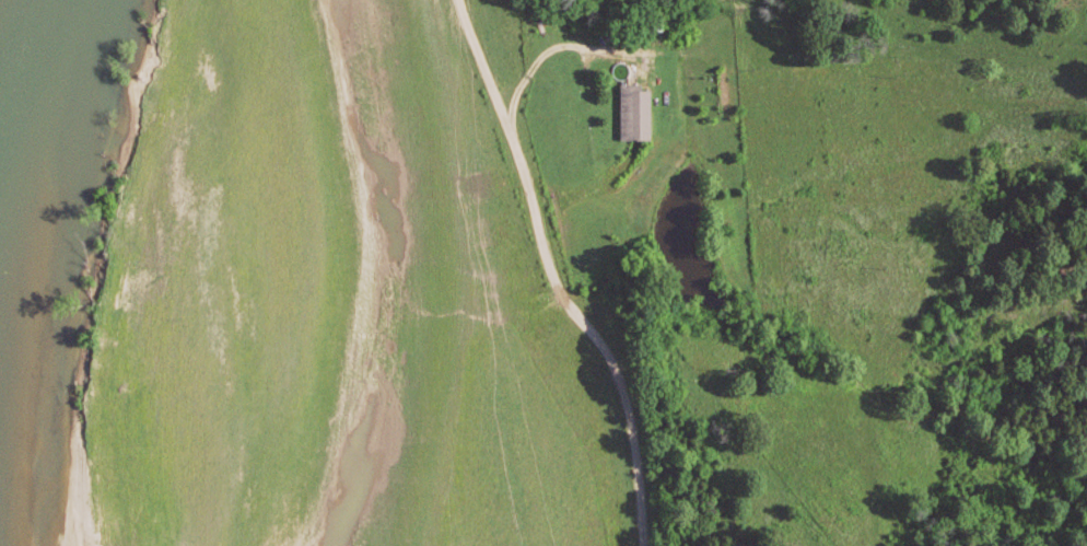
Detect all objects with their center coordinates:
building: (639, 115)
river: (36, 222)
road: (551, 276)

